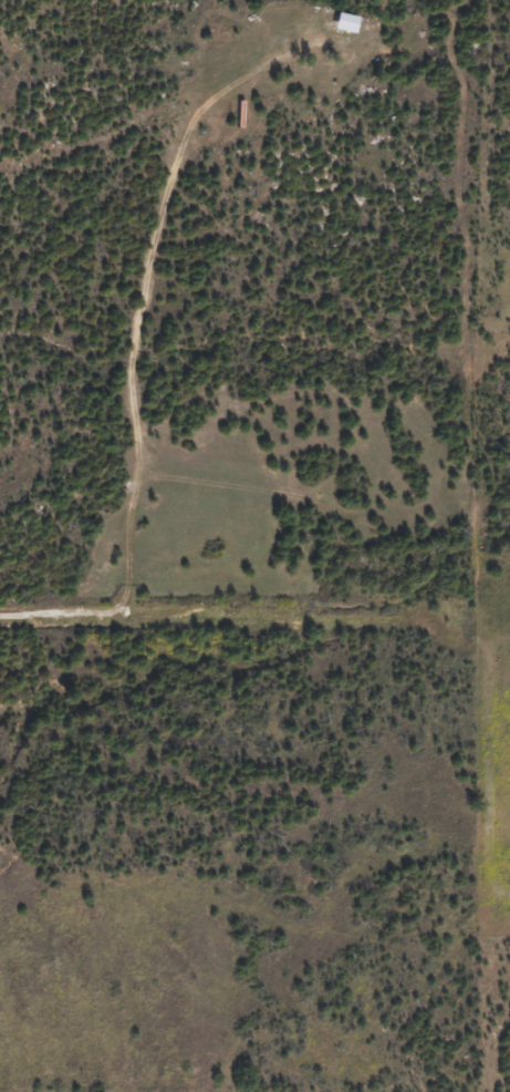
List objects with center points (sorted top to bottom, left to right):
building: (350, 21)

